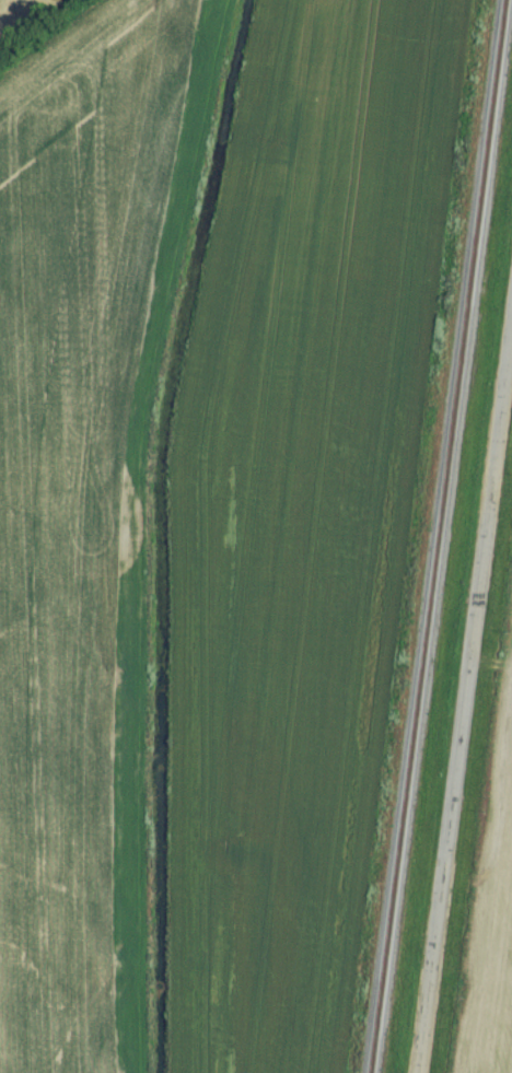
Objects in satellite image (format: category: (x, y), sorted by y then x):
railway: (442, 536)
road: (464, 708)

